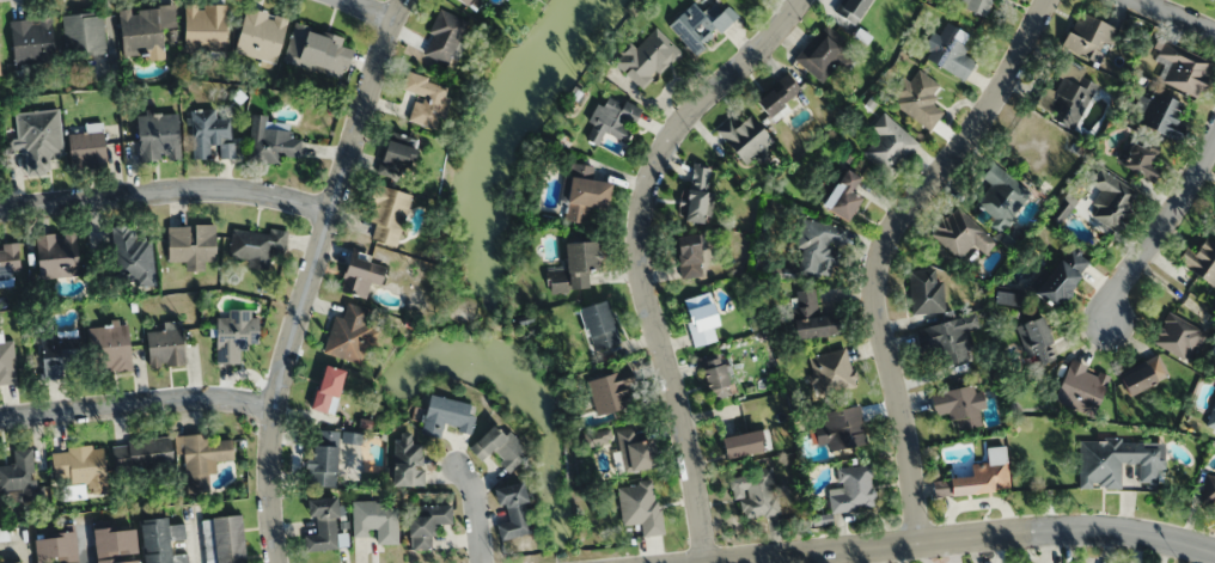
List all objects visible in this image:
building: (1214, 0)
building: (466, 1)
building: (976, 6)
building: (851, 10)
road: (370, 11)
road: (1176, 16)
building: (700, 26)
building: (204, 27)
building: (147, 29)
building: (84, 33)
building: (261, 35)
building: (444, 36)
building: (1088, 38)
building: (33, 39)
building: (318, 50)
building: (948, 50)
building: (820, 51)
building: (647, 57)
building: (0, 67)
building: (1183, 72)
building: (780, 94)
building: (1069, 97)
building: (426, 98)
building: (917, 98)
building: (1161, 116)
building: (609, 122)
building: (208, 130)
building: (38, 136)
building: (159, 136)
building: (747, 137)
building: (271, 140)
building: (889, 143)
building: (88, 148)
building: (398, 158)
building: (1140, 163)
road: (166, 190)
building: (585, 194)
building: (844, 195)
building: (1001, 195)
building: (698, 197)
building: (1107, 200)
building: (389, 214)
road: (1161, 232)
building: (960, 234)
building: (193, 244)
building: (256, 244)
building: (818, 249)
road: (886, 250)
building: (134, 252)
building: (59, 253)
road: (640, 256)
building: (690, 256)
building: (10, 258)
building: (1199, 261)
building: (574, 265)
building: (365, 274)
road: (312, 276)
building: (1057, 279)
building: (926, 290)
building: (808, 316)
building: (598, 324)
building: (701, 324)
building: (237, 333)
building: (350, 335)
building: (1180, 337)
building: (947, 338)
building: (1034, 341)
building: (167, 344)
building: (112, 347)
building: (60, 355)
building: (7, 362)
building: (831, 371)
building: (714, 375)
building: (1142, 377)
building: (1080, 387)
building: (329, 388)
building: (609, 392)
road: (139, 400)
building: (958, 403)
building: (446, 415)
building: (1211, 418)
building: (837, 428)
building: (744, 443)
building: (495, 446)
building: (634, 449)
building: (142, 455)
building: (202, 455)
building: (325, 458)
building: (408, 460)
building: (1121, 461)
building: (78, 466)
building: (20, 473)
building: (977, 476)
building: (853, 489)
building: (1208, 492)
building: (755, 494)
building: (639, 506)
building: (512, 508)
road: (470, 510)
building: (377, 519)
building: (325, 524)
building: (428, 524)
road: (1005, 534)
building: (226, 539)
building: (163, 540)
building: (117, 544)
building: (59, 547)
building: (16, 562)

